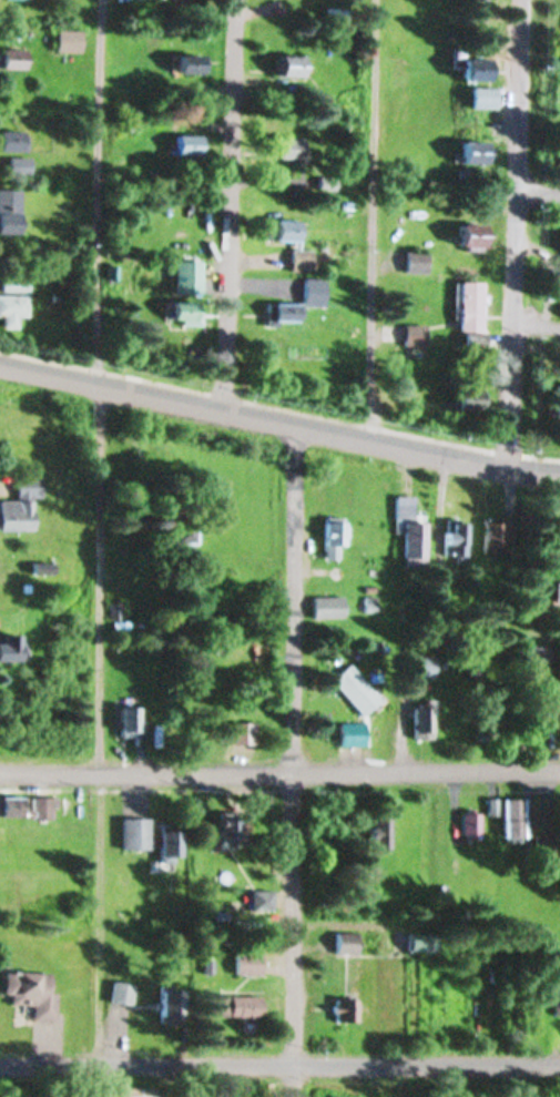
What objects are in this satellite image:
building: (70, 40)
building: (13, 59)
building: (186, 64)
building: (289, 67)
building: (479, 70)
building: (485, 98)
building: (14, 141)
building: (190, 145)
building: (288, 149)
building: (476, 152)
building: (21, 165)
road: (539, 193)
road: (222, 205)
building: (11, 210)
road: (373, 220)
building: (287, 230)
road: (517, 234)
building: (475, 235)
building: (302, 258)
building: (418, 261)
building: (186, 276)
building: (314, 291)
building: (472, 305)
building: (185, 312)
building: (283, 312)
road: (538, 326)
building: (416, 334)
building: (559, 408)
road: (278, 420)
building: (21, 504)
building: (179, 529)
road: (95, 530)
building: (411, 530)
building: (497, 536)
building: (334, 538)
building: (456, 538)
building: (327, 606)
building: (11, 644)
building: (422, 664)
building: (355, 688)
building: (130, 720)
building: (424, 721)
building: (244, 731)
building: (353, 732)
road: (277, 760)
road: (279, 776)
building: (27, 805)
building: (513, 817)
building: (471, 823)
building: (231, 829)
building: (378, 831)
building: (138, 832)
building: (540, 839)
building: (171, 844)
building: (125, 874)
building: (265, 897)
building: (346, 942)
building: (421, 942)
building: (246, 962)
building: (32, 991)
building: (122, 992)
building: (557, 1003)
building: (169, 1004)
building: (240, 1008)
building: (346, 1009)
road: (279, 1066)
building: (135, 1091)

